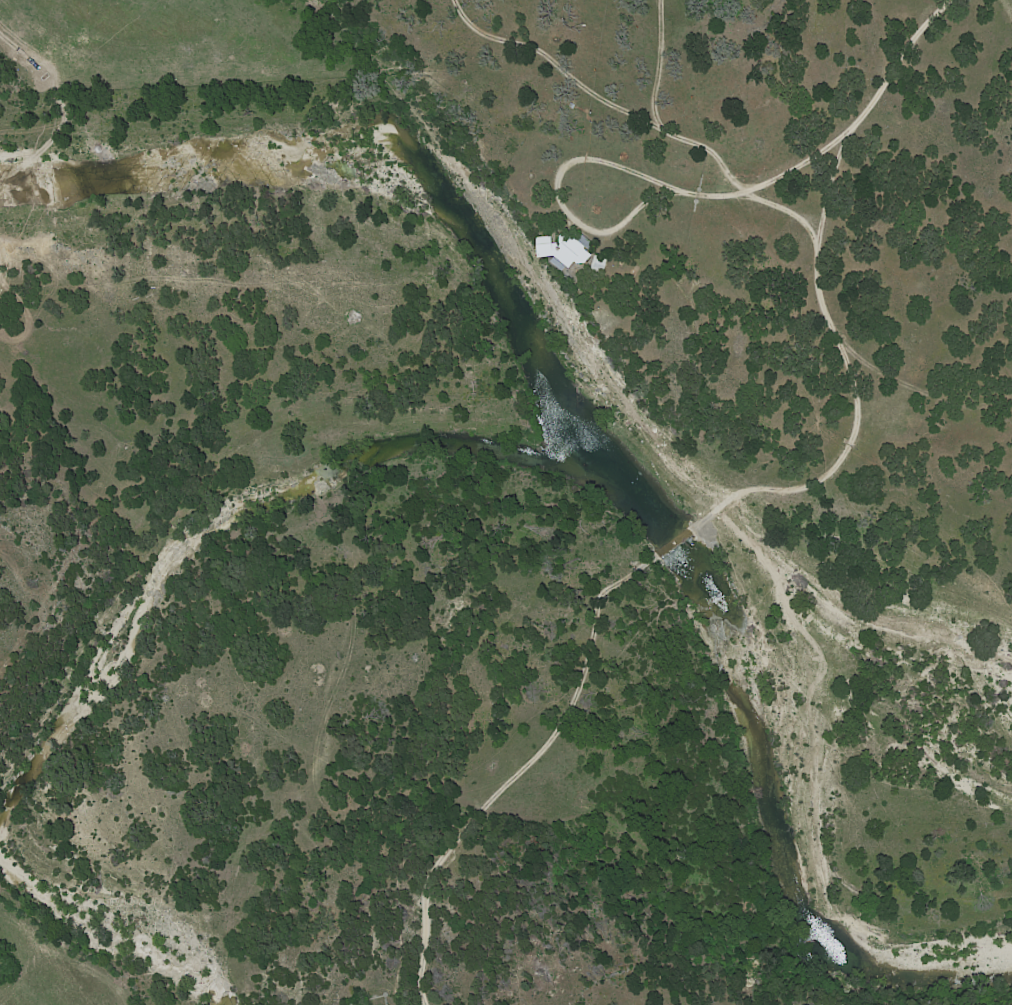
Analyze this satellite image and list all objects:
road: (836, 147)
road: (559, 196)
building: (565, 249)
building: (601, 264)

